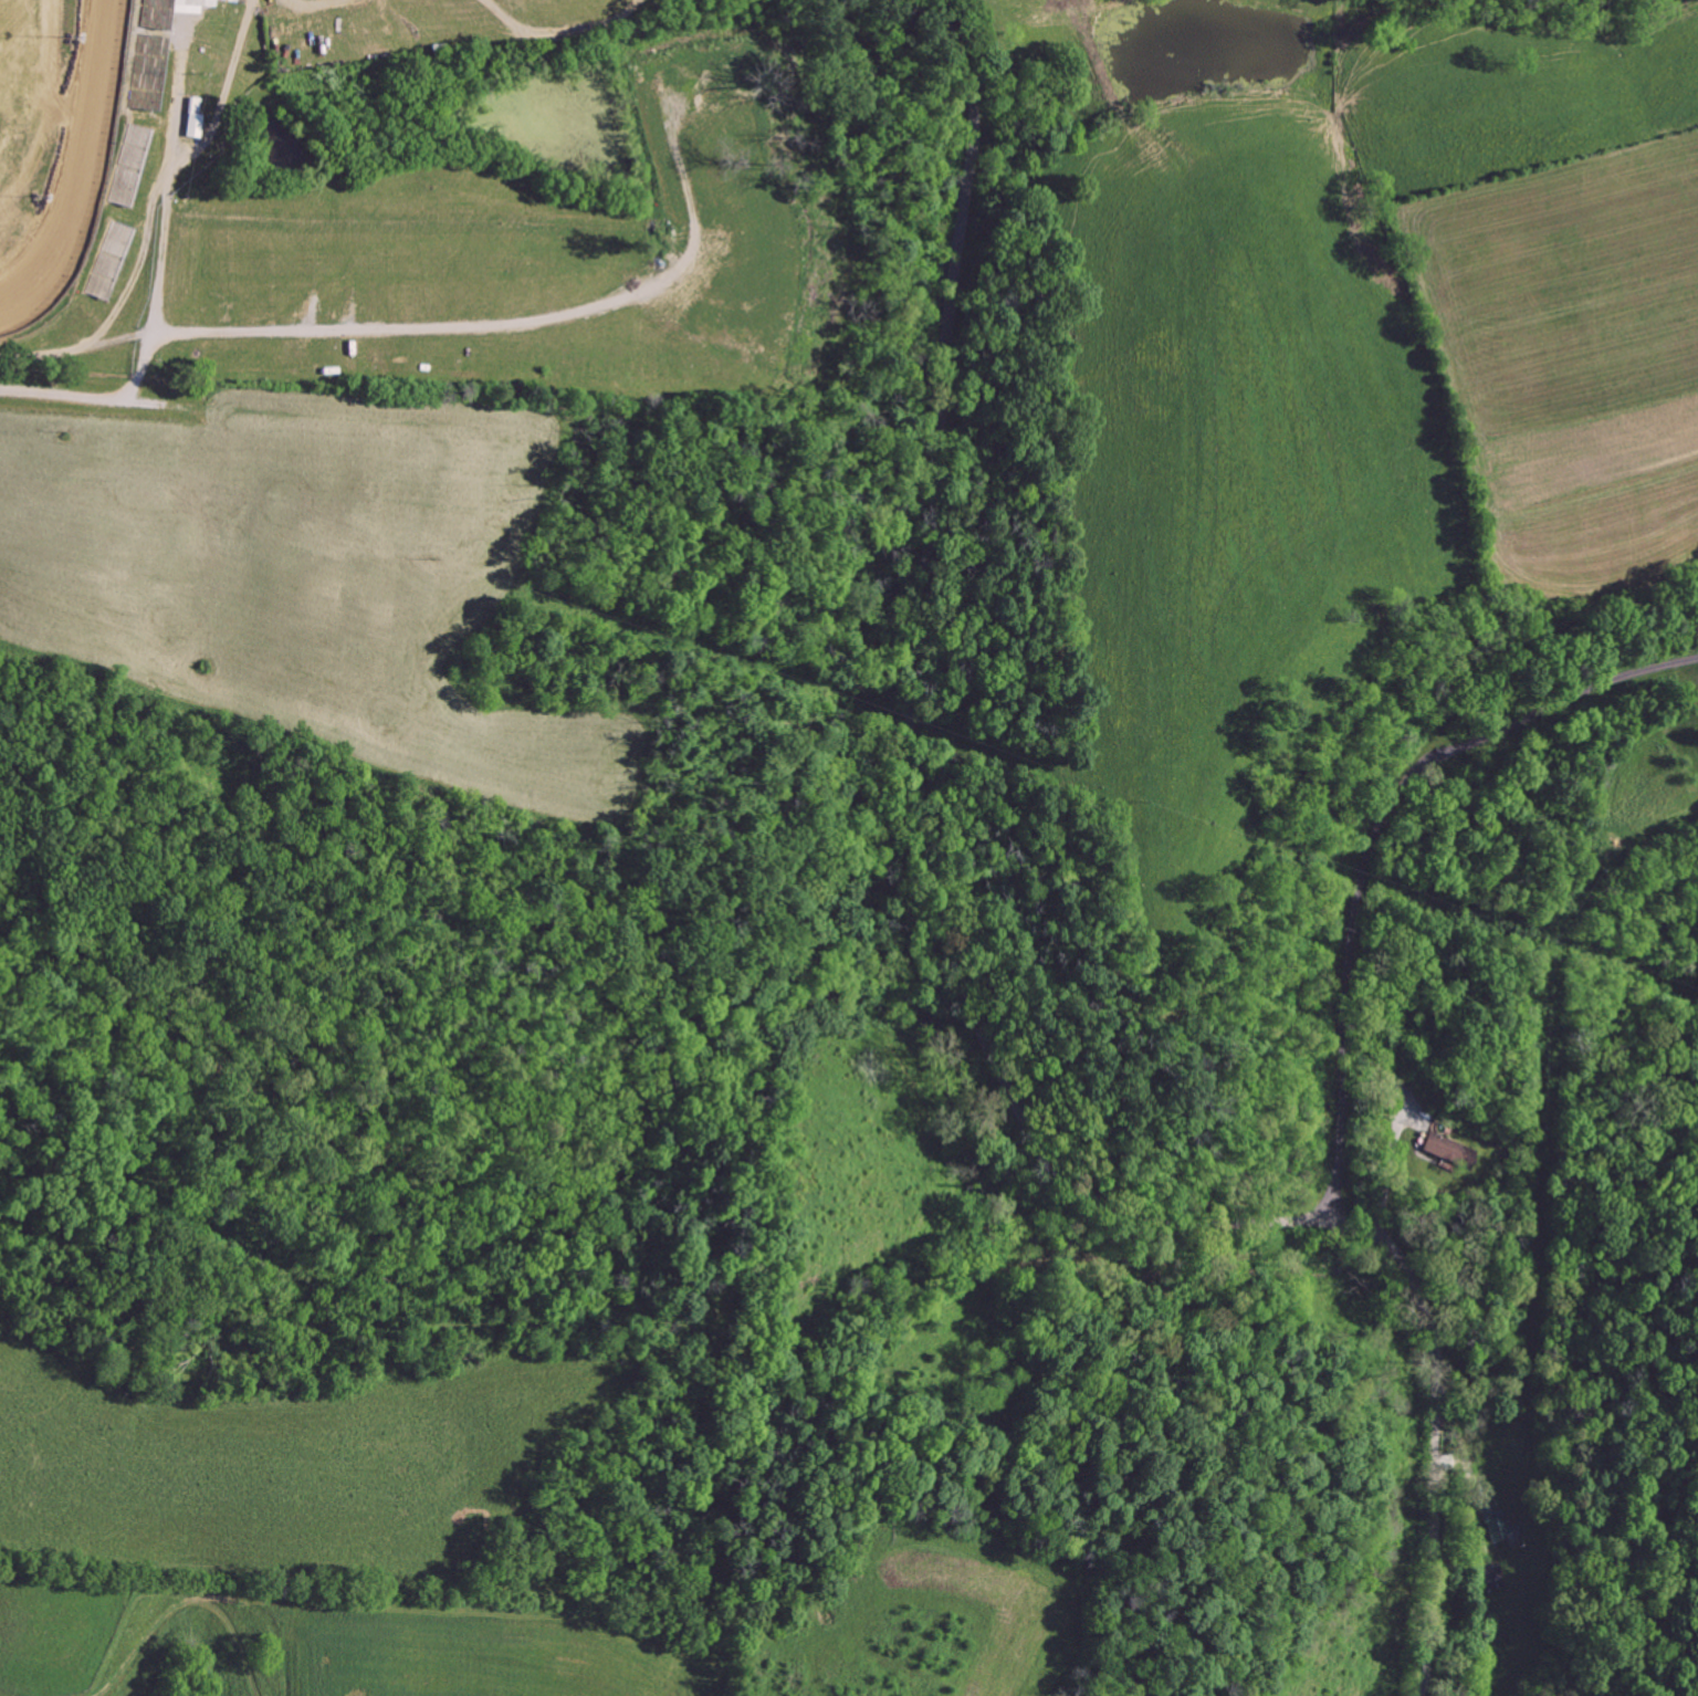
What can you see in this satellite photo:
building: (202, 2)
building: (157, 12)
building: (149, 70)
building: (193, 117)
building: (130, 165)
raceway: (83, 169)
raceway: (75, 175)
road: (166, 249)
building: (109, 258)
road: (101, 398)
road: (1374, 841)
road: (965, 997)
building: (1451, 1150)
road: (1392, 1165)
building: (1499, 1526)
building: (1493, 1578)

